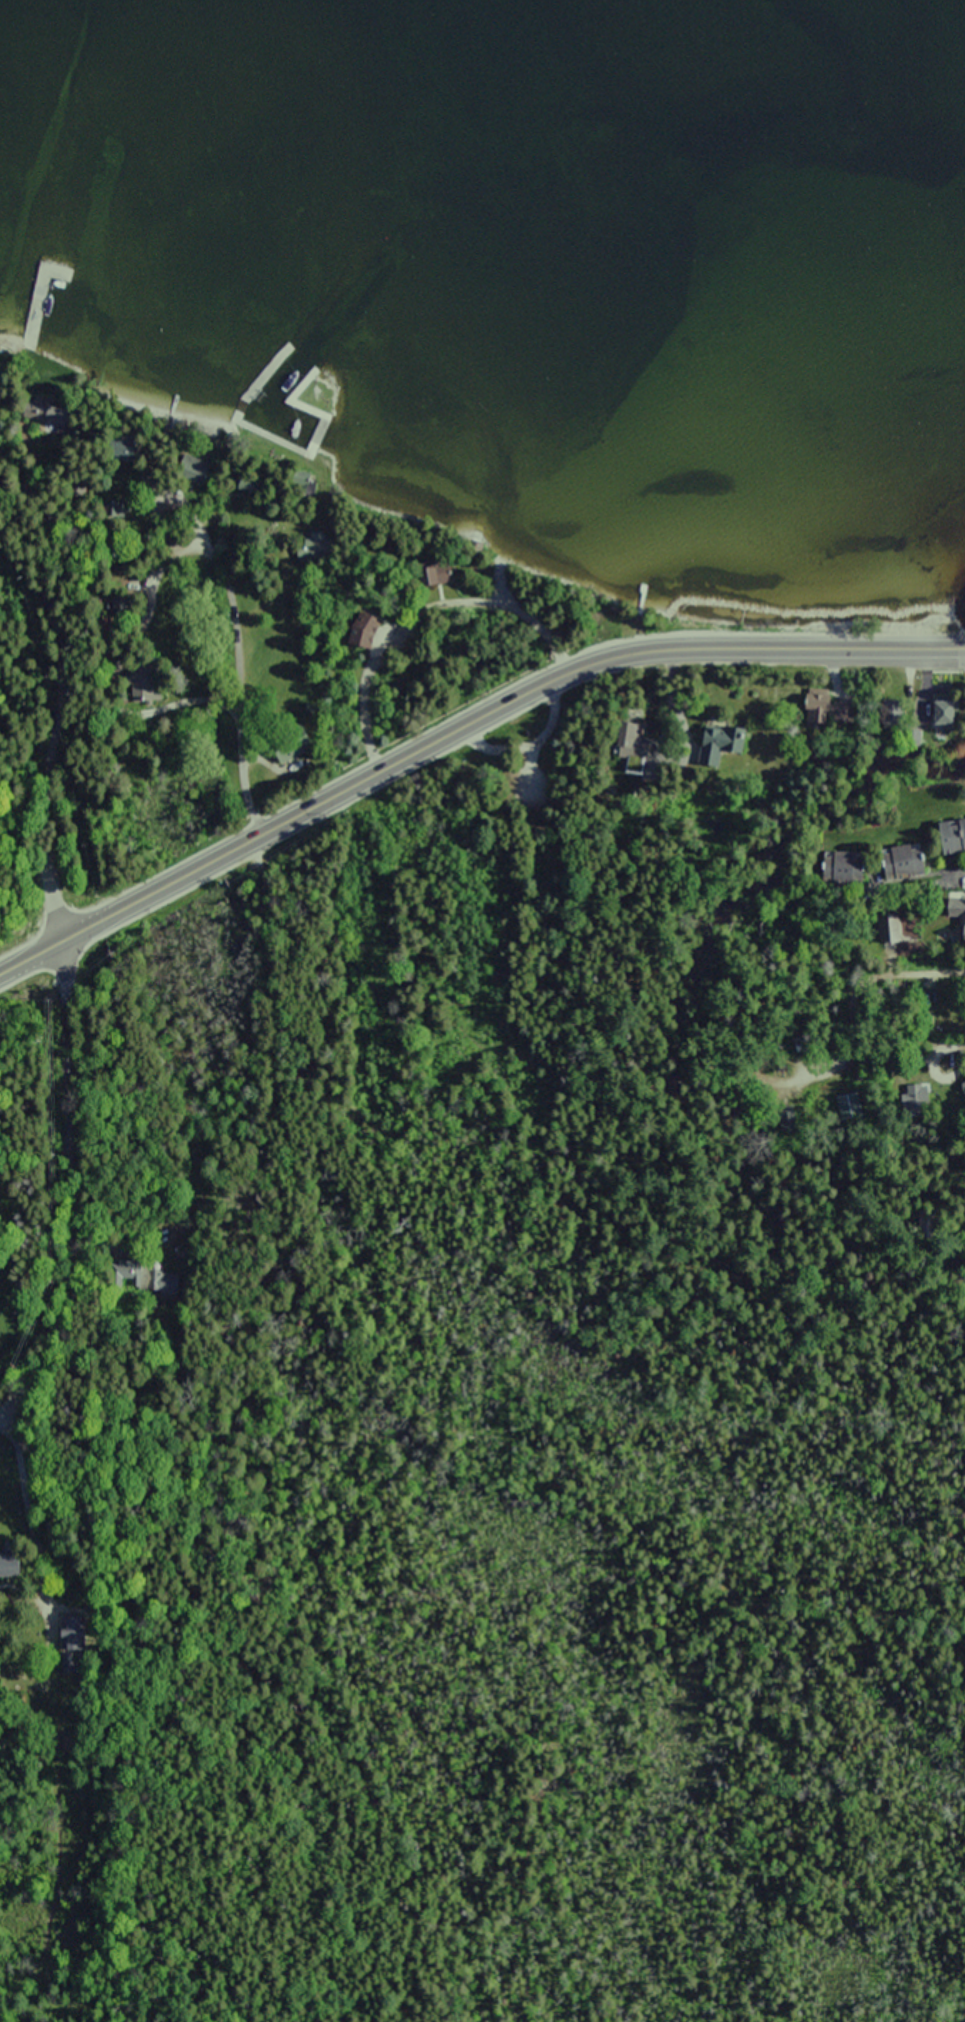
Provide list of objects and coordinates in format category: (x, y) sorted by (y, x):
road: (423, 618)
road: (615, 646)
building: (821, 708)
road: (240, 712)
building: (938, 713)
road: (52, 736)
building: (631, 740)
building: (710, 744)
road: (531, 750)
parking lot: (531, 756)
building: (948, 836)
building: (899, 862)
building: (839, 863)
road: (150, 880)
road: (939, 881)
building: (955, 910)
building: (892, 932)
road: (924, 974)
road: (963, 1055)
building: (919, 1096)
building: (852, 1105)
road: (70, 1183)
building: (71, 1633)

